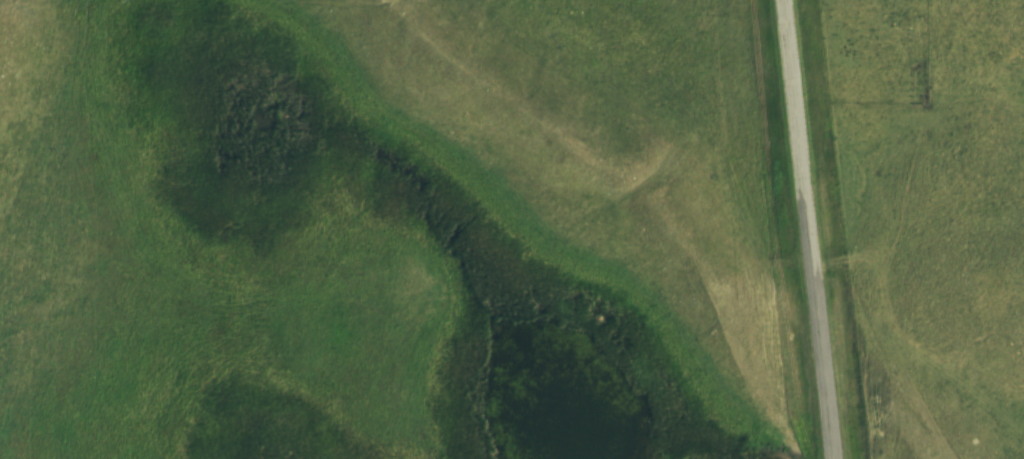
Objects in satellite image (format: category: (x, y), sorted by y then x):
road: (805, 229)

